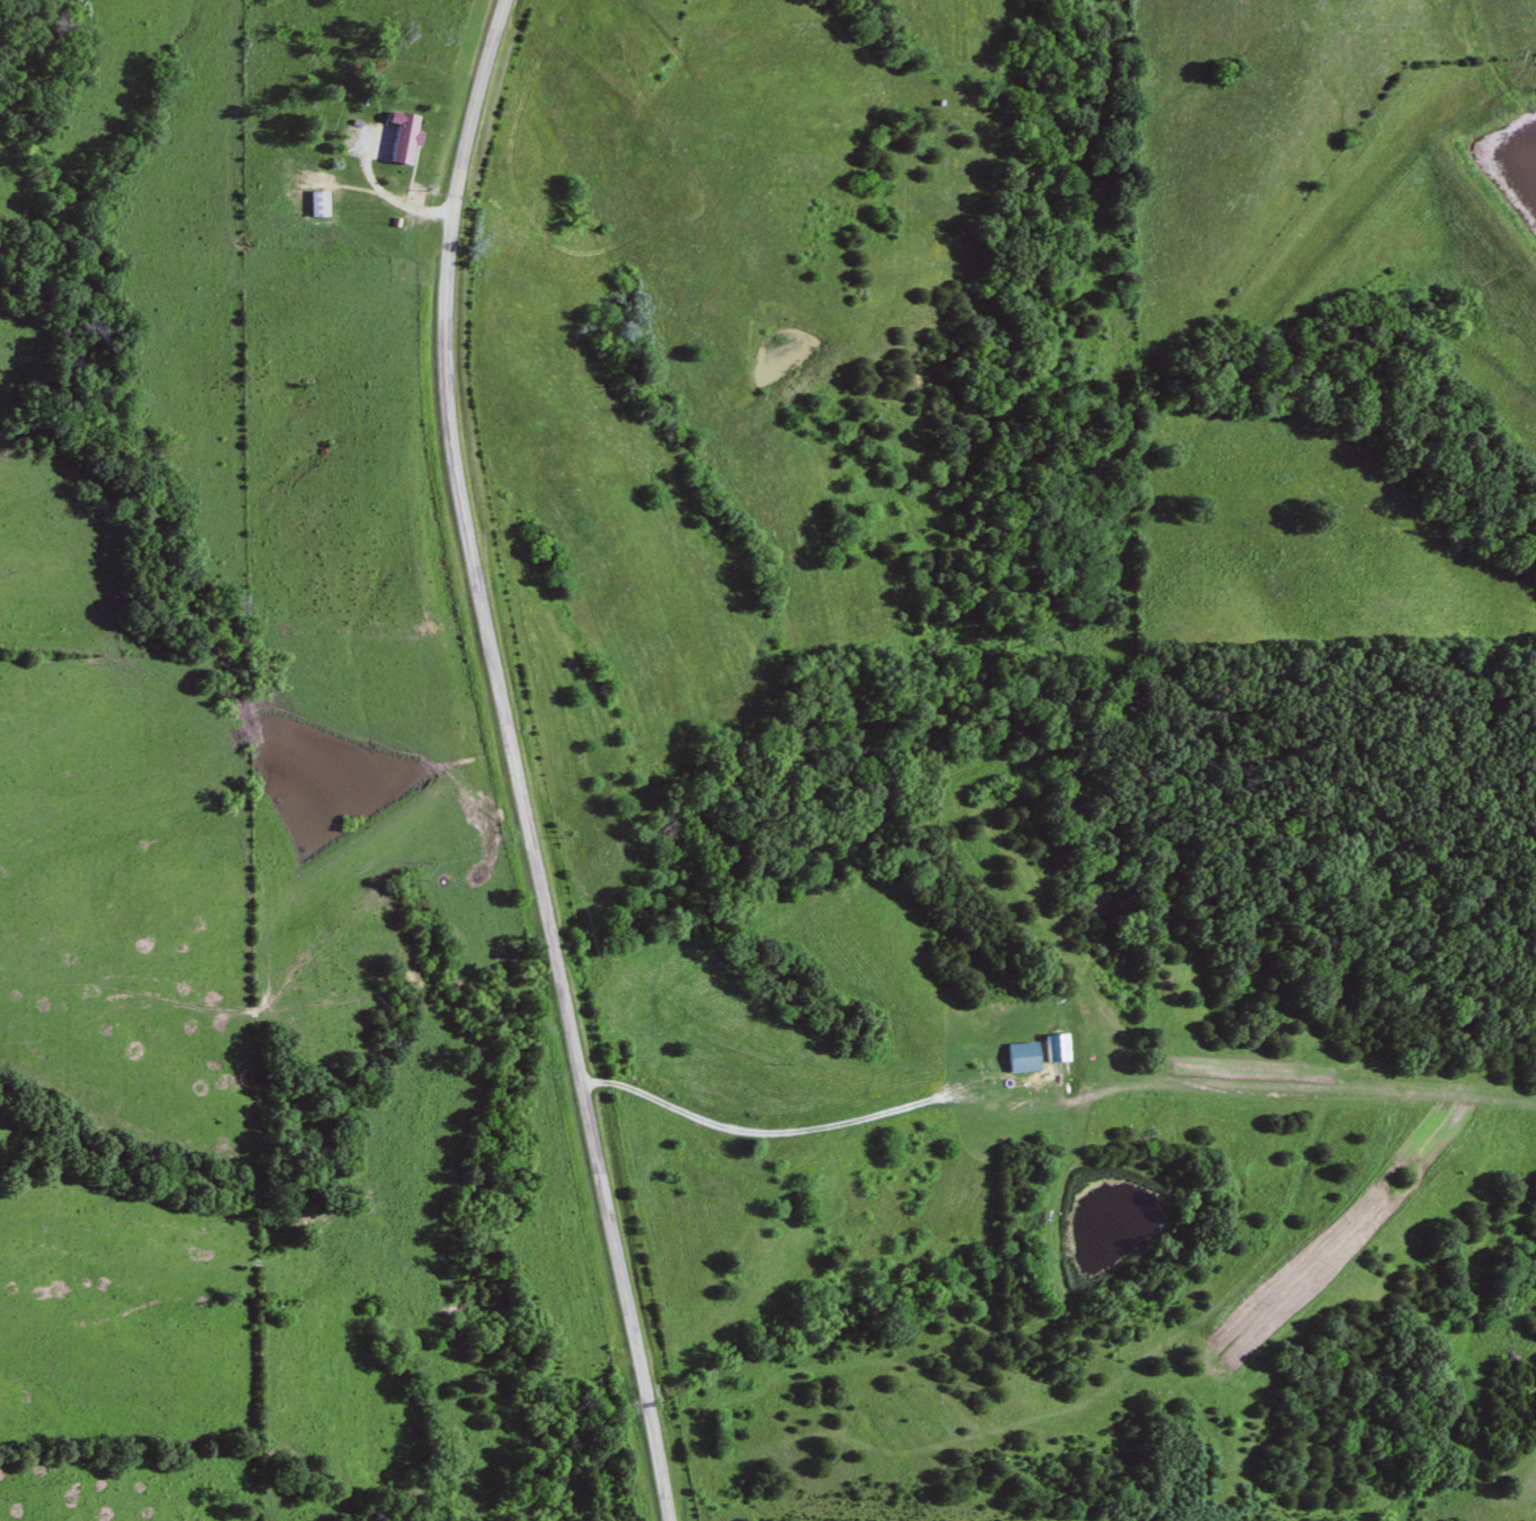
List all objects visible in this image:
building: (400, 136)
building: (316, 203)
road: (399, 203)
road: (515, 761)

